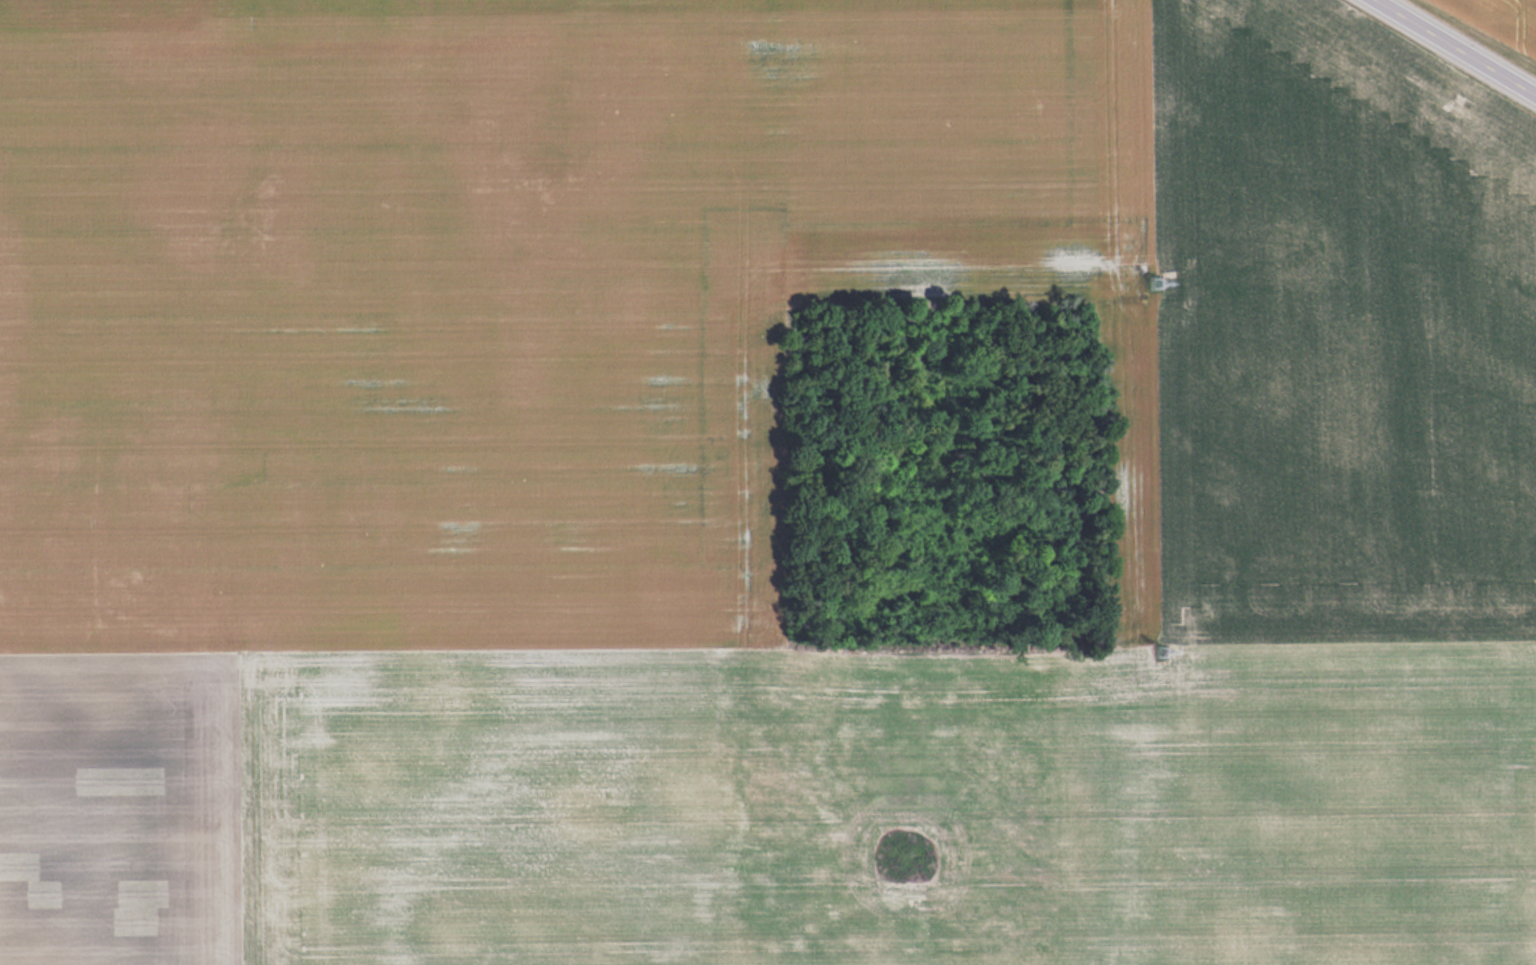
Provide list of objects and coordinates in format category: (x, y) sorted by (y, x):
road: (1454, 48)
power tower: (1158, 284)
power tower: (1166, 654)

